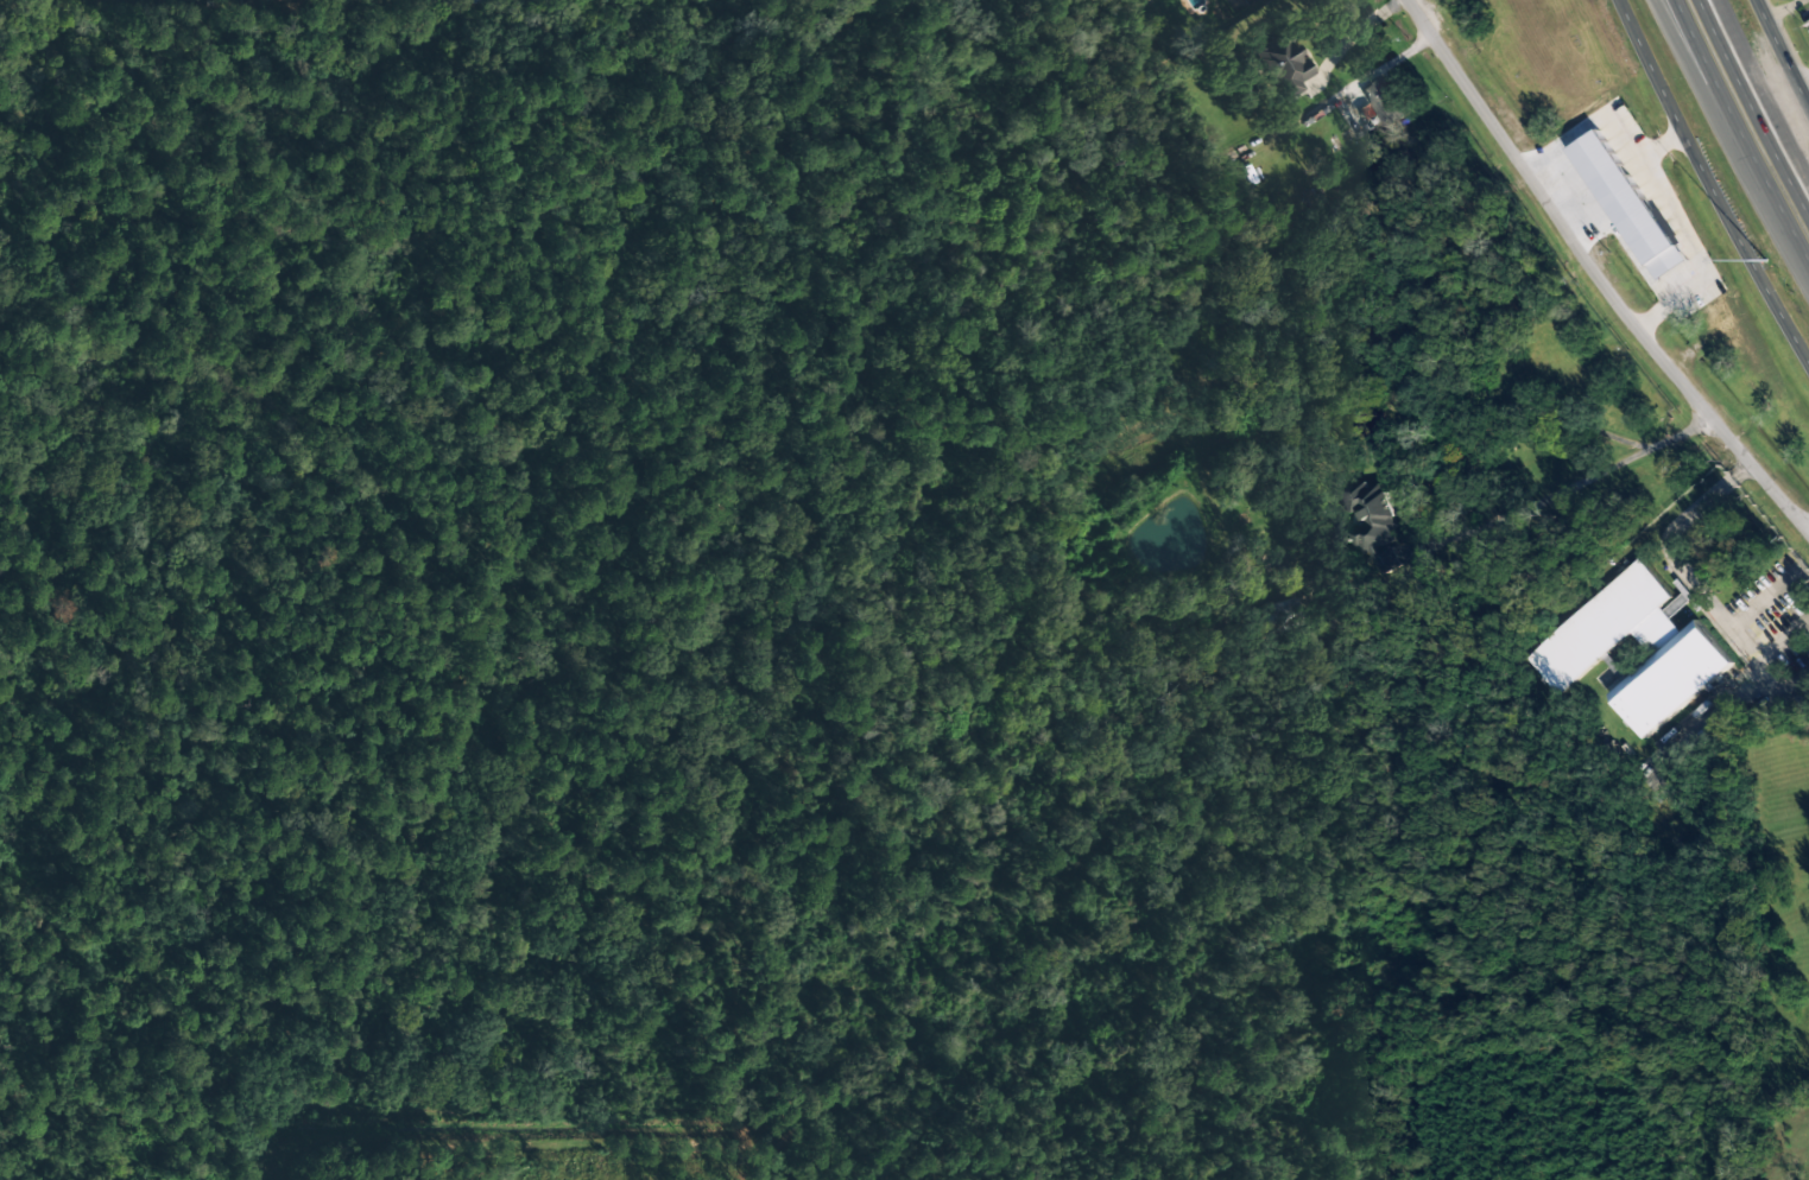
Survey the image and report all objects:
building: (1244, 1)
building: (480, 2)
road: (1780, 57)
building: (1285, 66)
road: (1697, 83)
building: (1383, 101)
road: (1753, 106)
road: (1739, 133)
road: (1712, 182)
building: (1626, 204)
building: (1621, 237)
road: (1599, 275)
building: (1368, 520)
building: (1284, 613)
building: (1573, 643)

